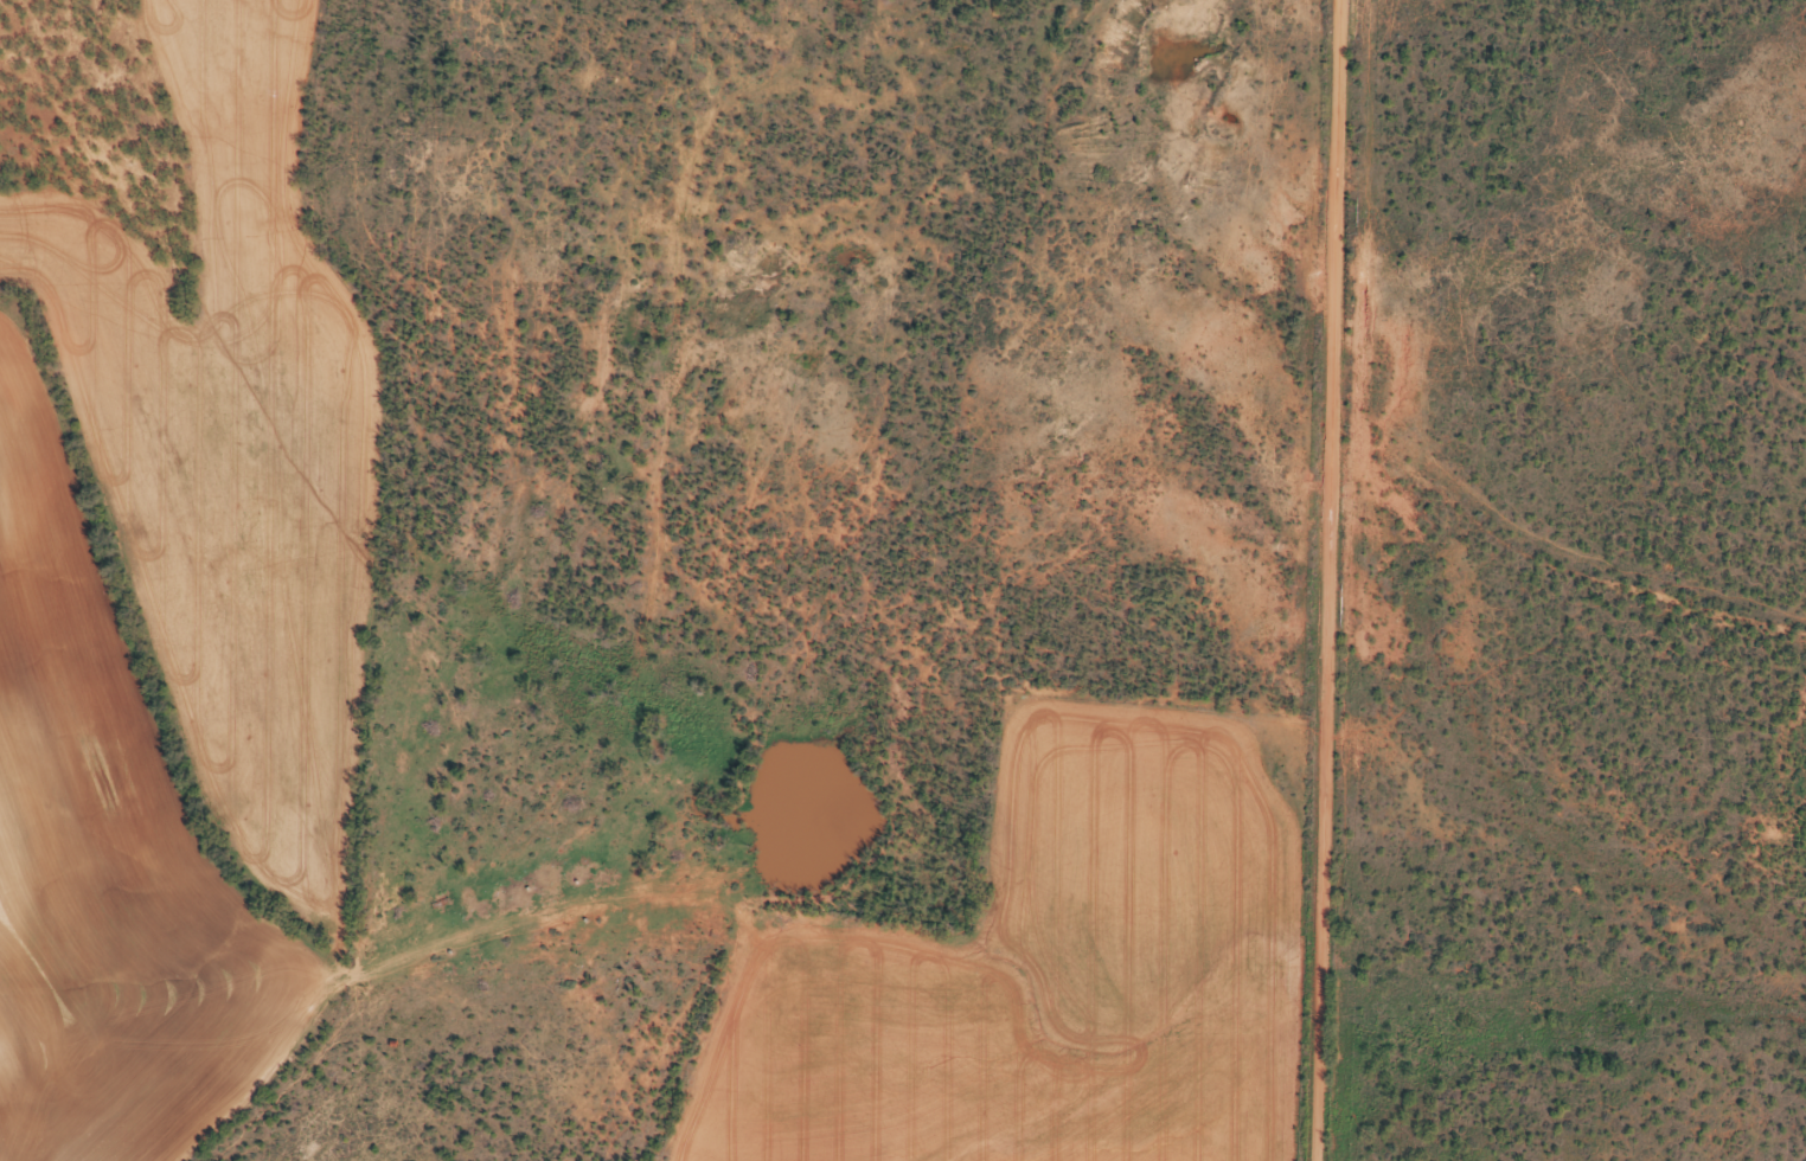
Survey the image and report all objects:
road: (1330, 580)

